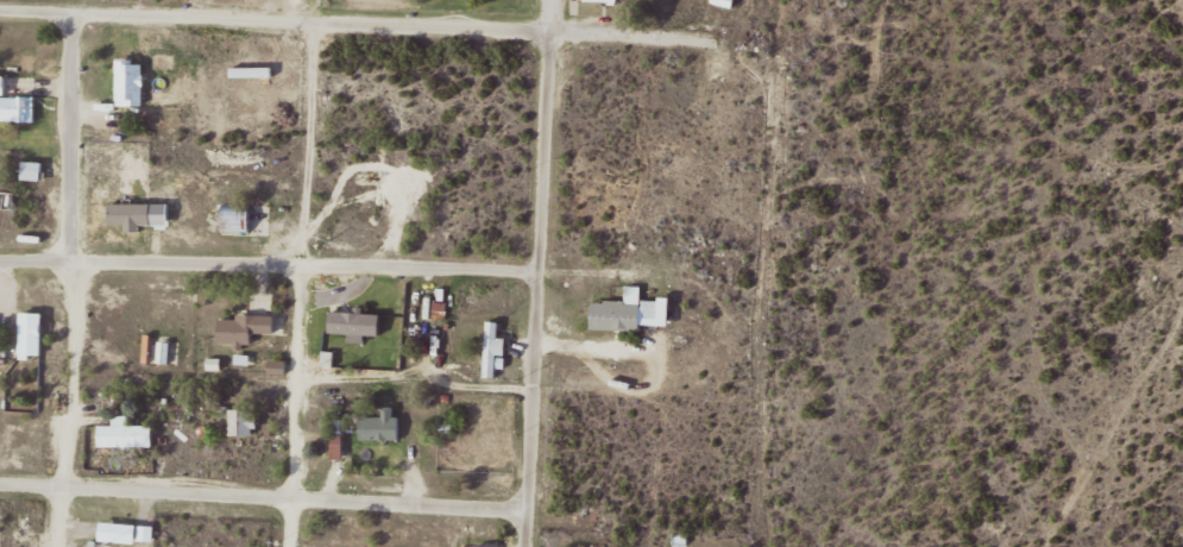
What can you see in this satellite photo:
building: (725, 2)
building: (669, 4)
road: (359, 26)
building: (130, 83)
building: (15, 105)
building: (32, 169)
building: (237, 219)
road: (270, 266)
road: (540, 272)
road: (73, 281)
building: (471, 312)
building: (630, 312)
building: (244, 327)
building: (31, 334)
road: (417, 376)
road: (300, 407)
building: (244, 421)
building: (379, 427)
building: (126, 433)
road: (264, 495)
building: (680, 539)
building: (484, 546)

